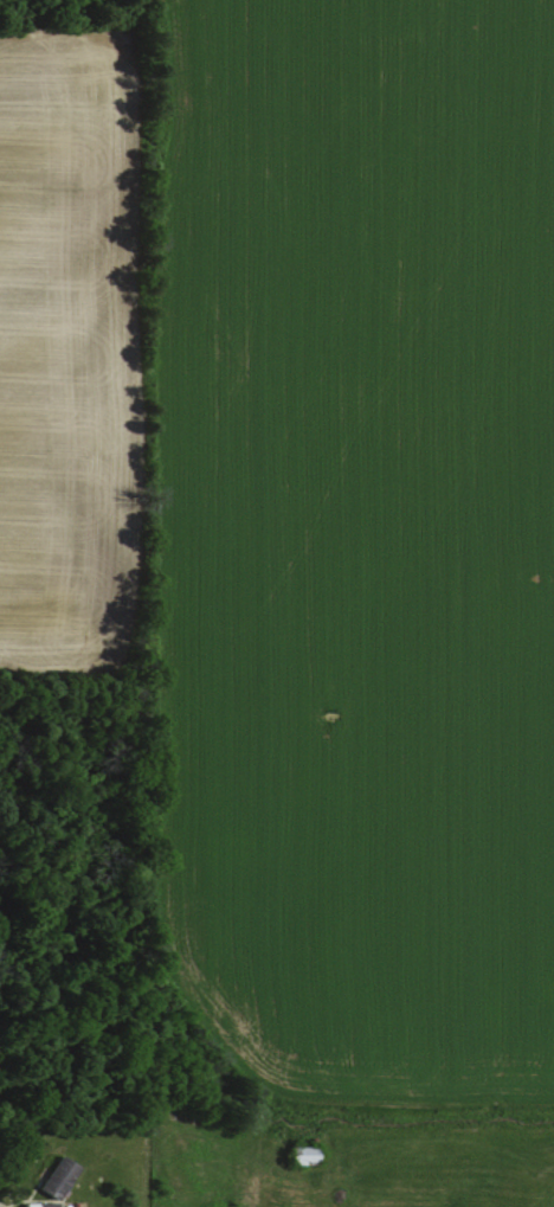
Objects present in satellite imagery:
building: (53, 1174)
building: (30, 1203)

